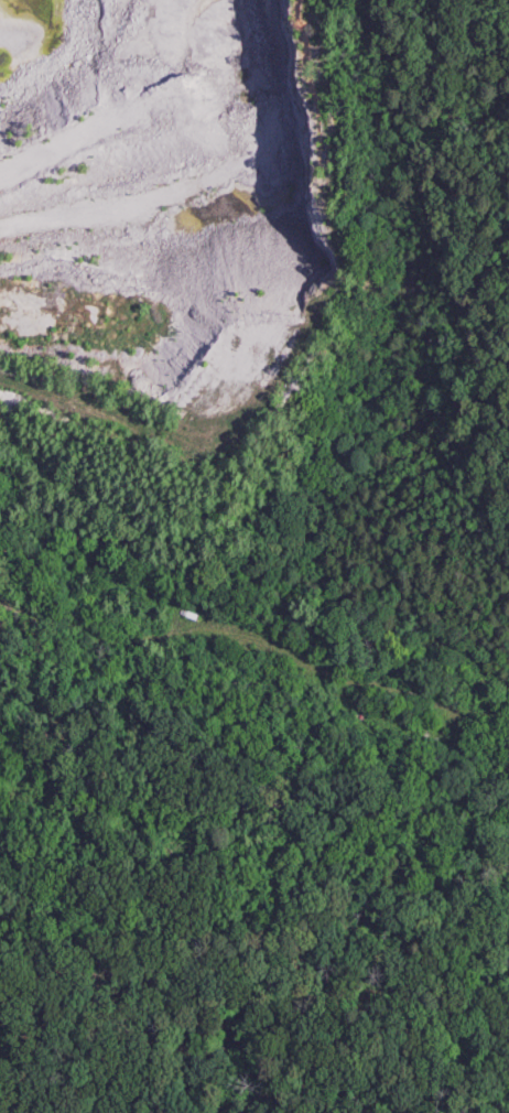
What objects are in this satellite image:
road: (15, 57)

